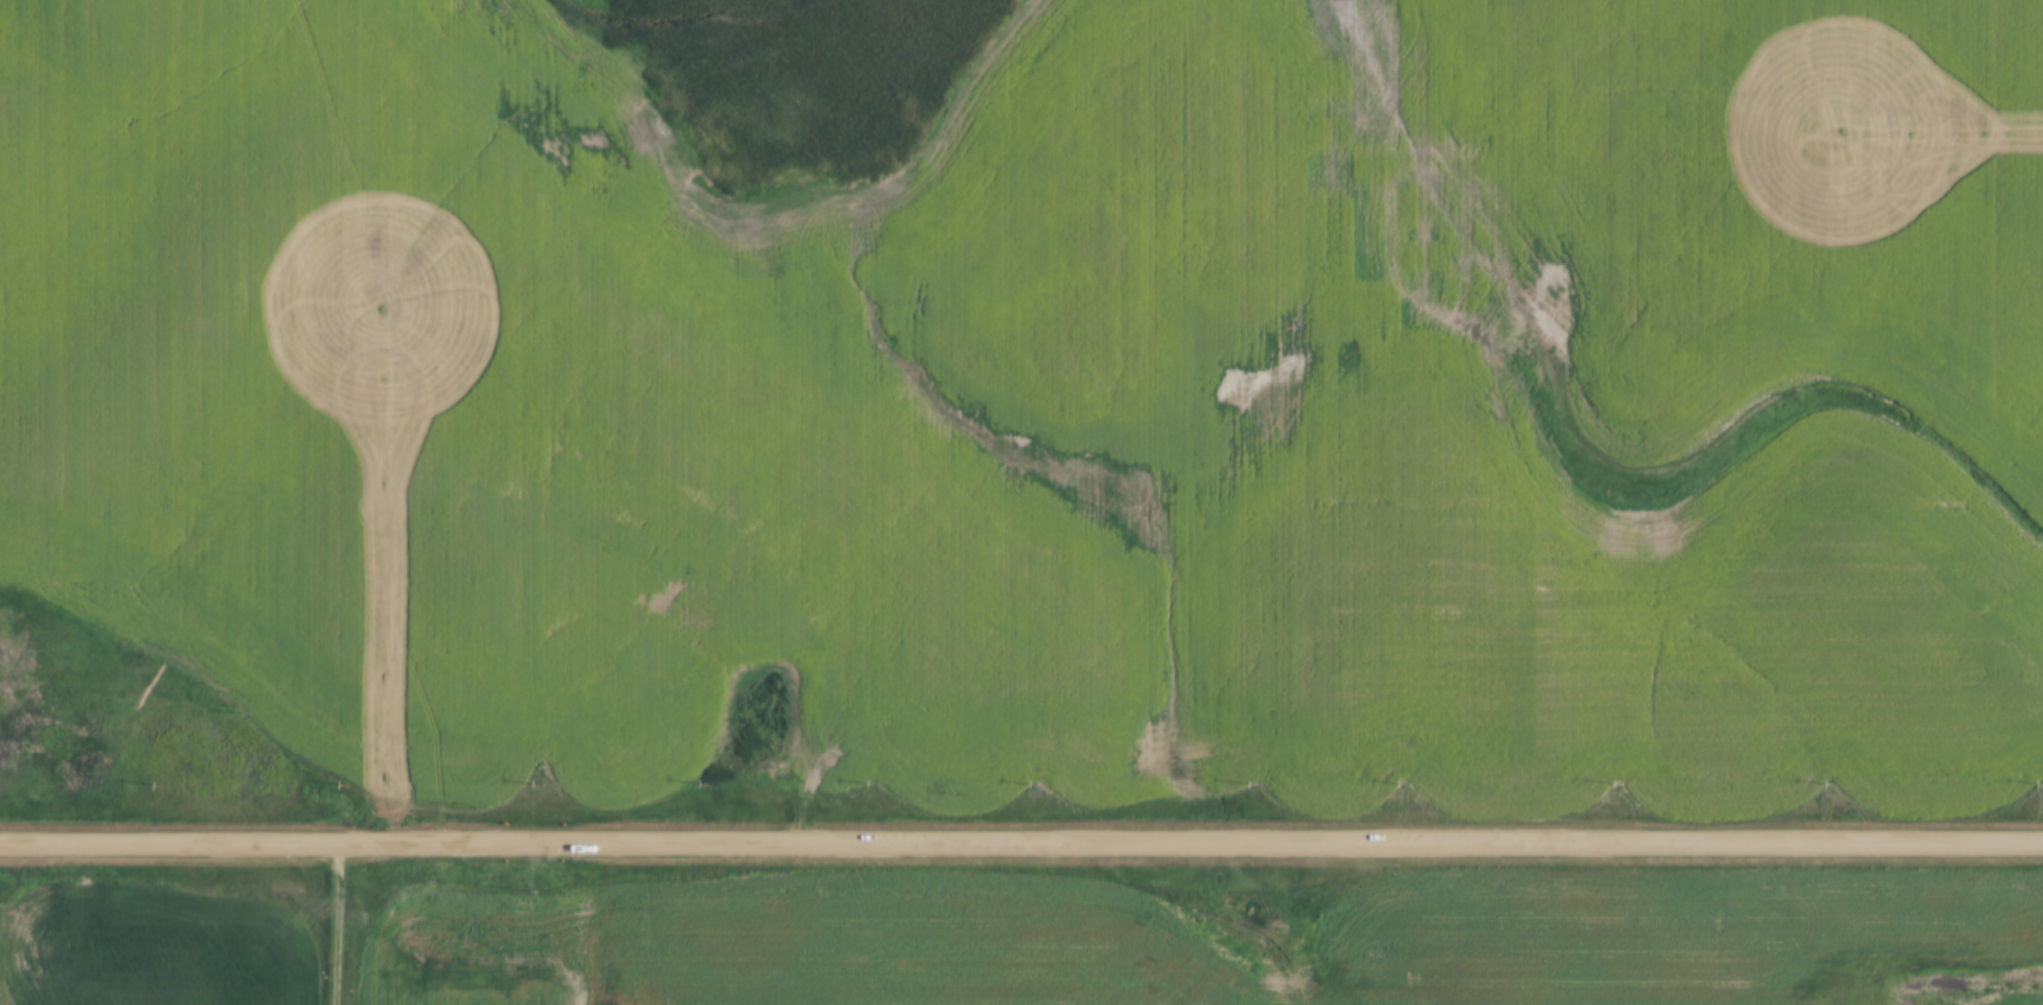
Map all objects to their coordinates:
wind turbine: (1839, 129)
wind turbine: (375, 305)
road: (1021, 843)
road: (337, 923)

